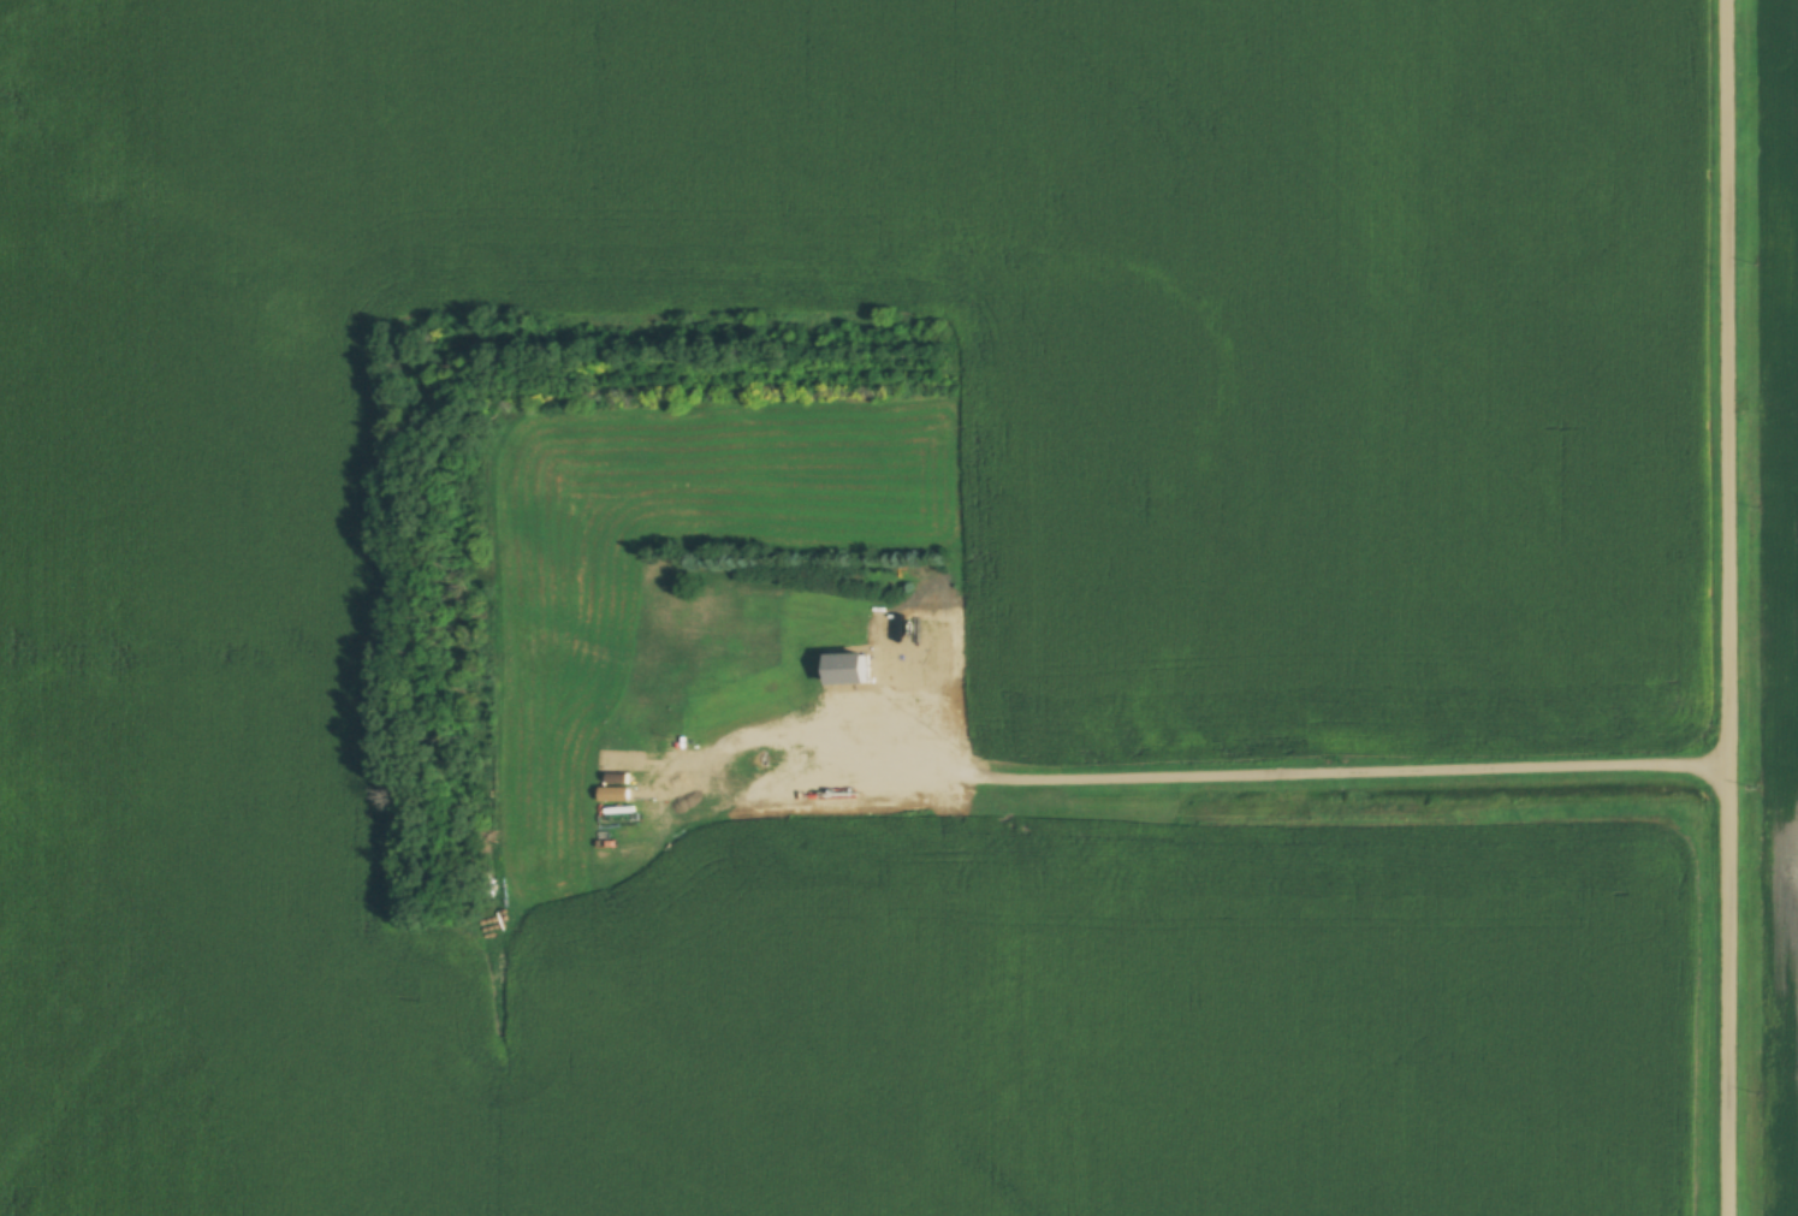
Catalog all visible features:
road: (1731, 607)

